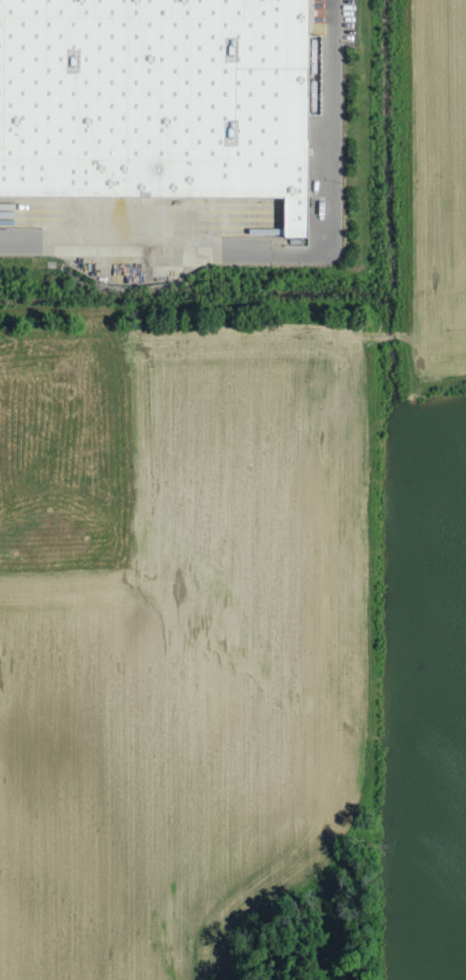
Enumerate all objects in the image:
building: (315, 51)
building: (156, 98)
road: (289, 248)

